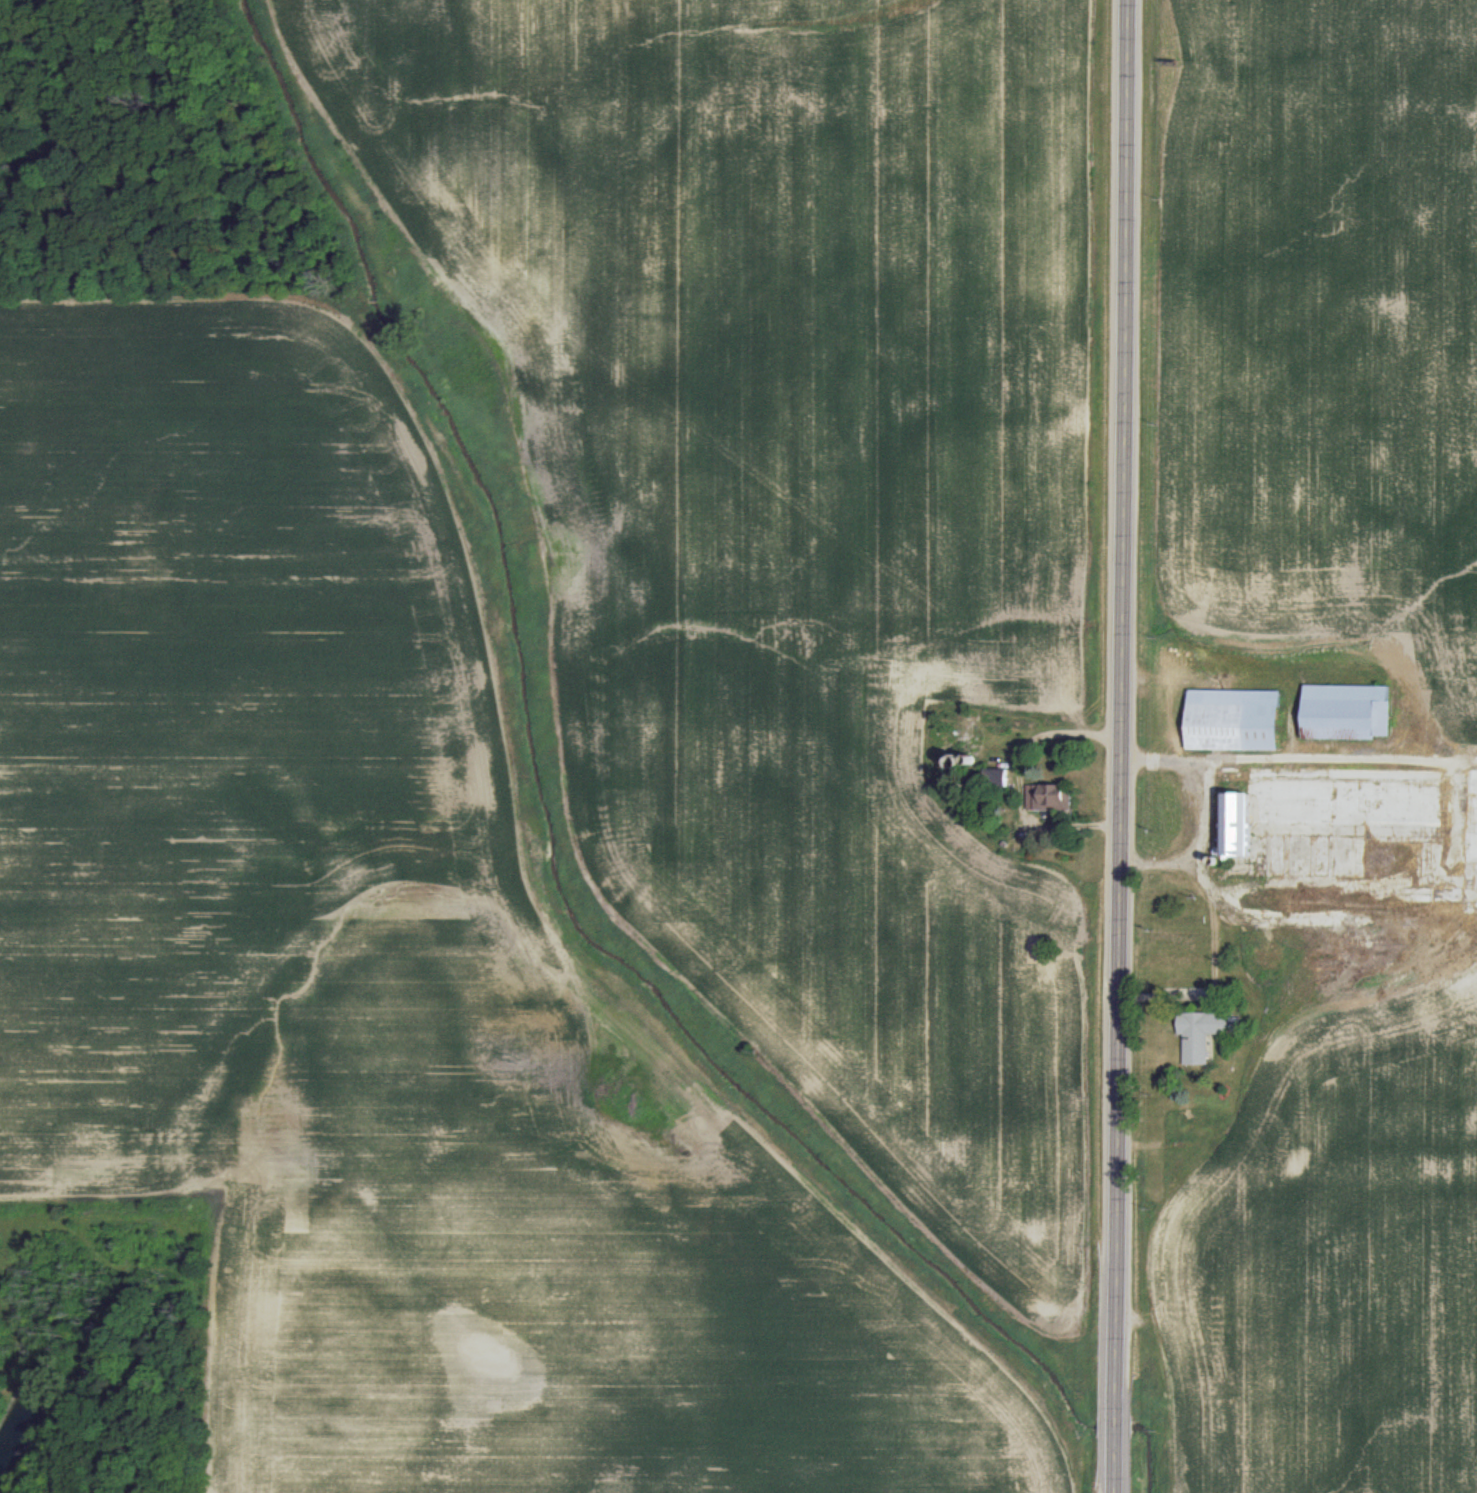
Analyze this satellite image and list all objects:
building: (1346, 711)
building: (1234, 719)
crop: (558, 744)
road: (1121, 746)
crop: (1297, 751)
road: (1284, 757)
building: (996, 779)
building: (1049, 796)
building: (1251, 815)
road: (1196, 848)
building: (1200, 1033)

